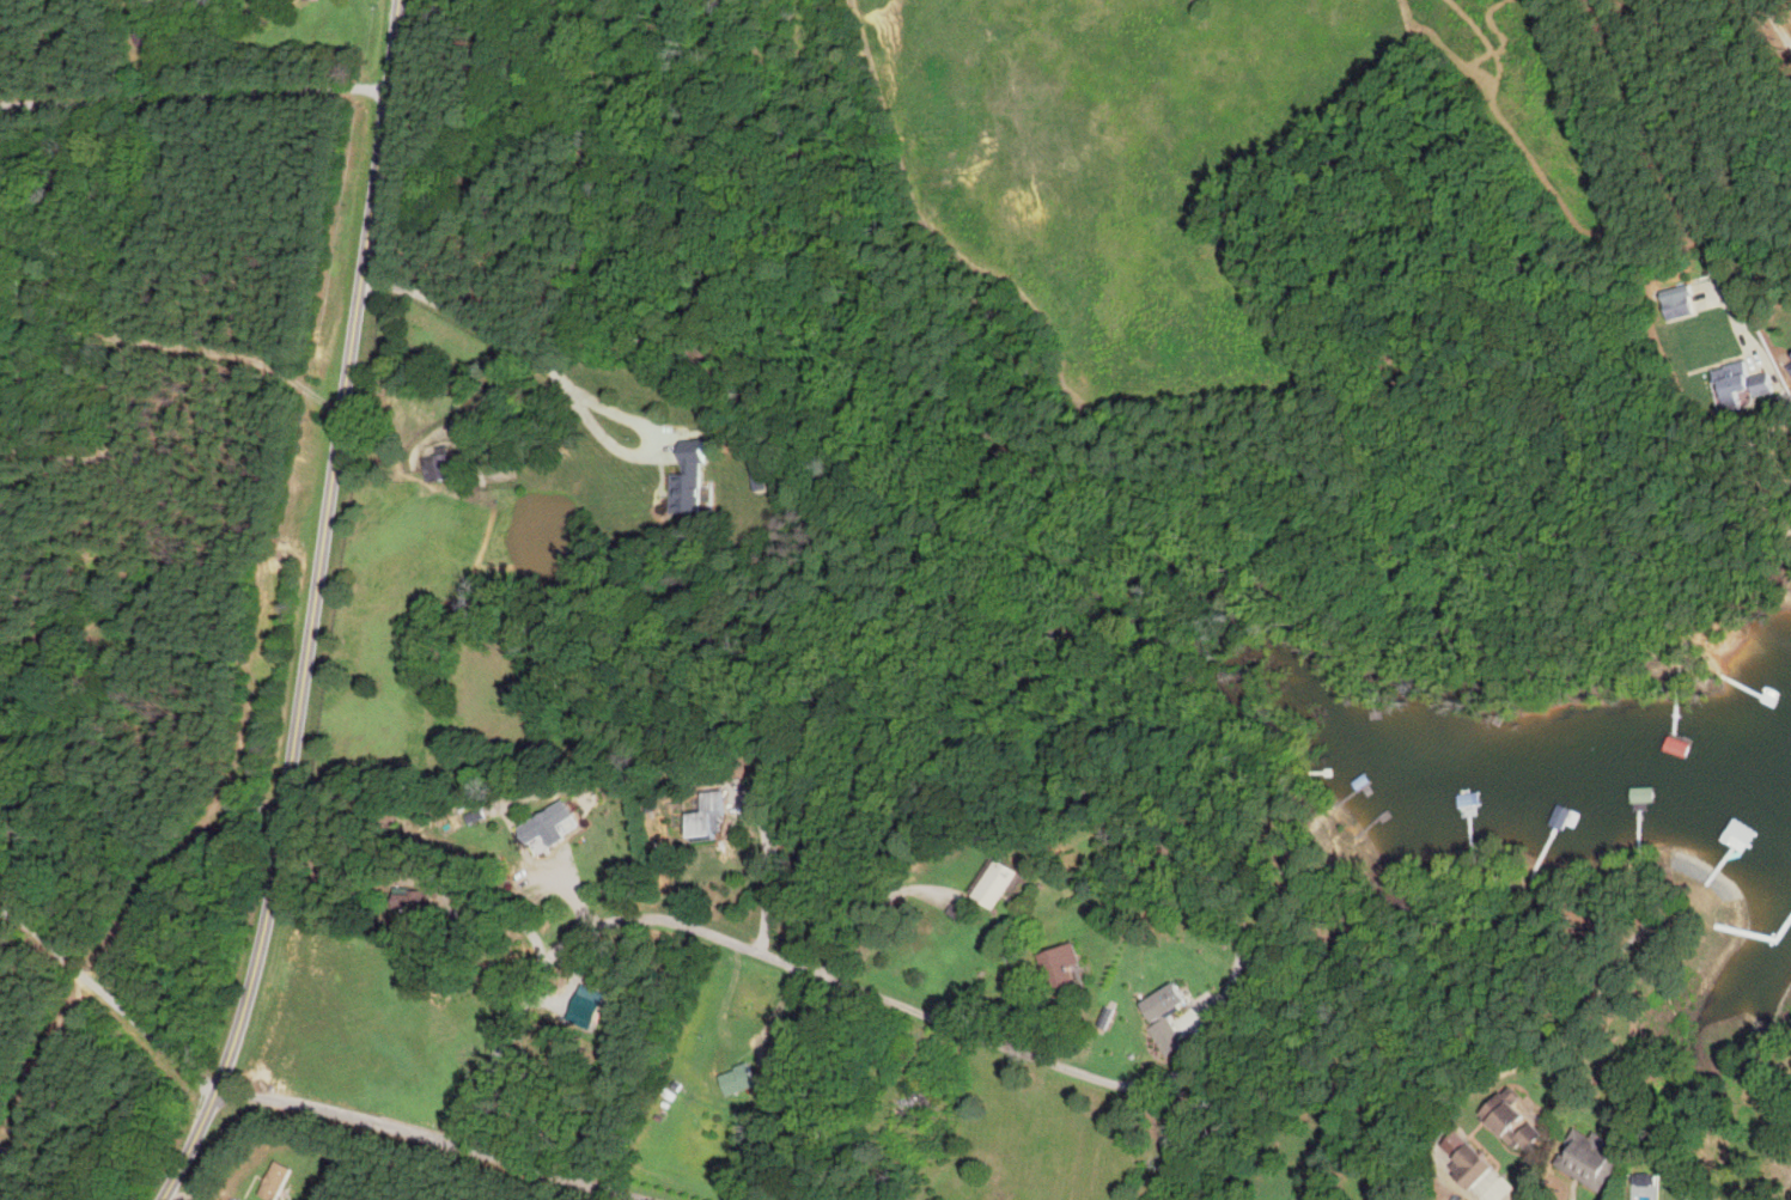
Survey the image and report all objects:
building: (269, 6)
road: (1779, 13)
building: (156, 35)
road: (195, 96)
road: (383, 138)
road: (1705, 145)
building: (25, 286)
building: (1673, 307)
road: (132, 345)
building: (1790, 368)
building: (1737, 384)
road: (568, 385)
building: (450, 467)
building: (700, 477)
building: (1, 495)
building: (1766, 725)
road: (291, 745)
building: (1676, 745)
building: (1641, 796)
building: (715, 815)
building: (1557, 815)
building: (556, 828)
building: (1740, 832)
road: (776, 878)
building: (1004, 879)
building: (421, 901)
road: (508, 909)
road: (876, 909)
road: (736, 946)
building: (1072, 966)
road: (112, 992)
building: (1157, 1000)
building: (743, 1080)
building: (927, 1108)
building: (1507, 1119)
road: (439, 1144)
building: (1584, 1157)
building: (1466, 1165)
road: (43, 1169)
building: (281, 1181)
road: (1494, 1192)

